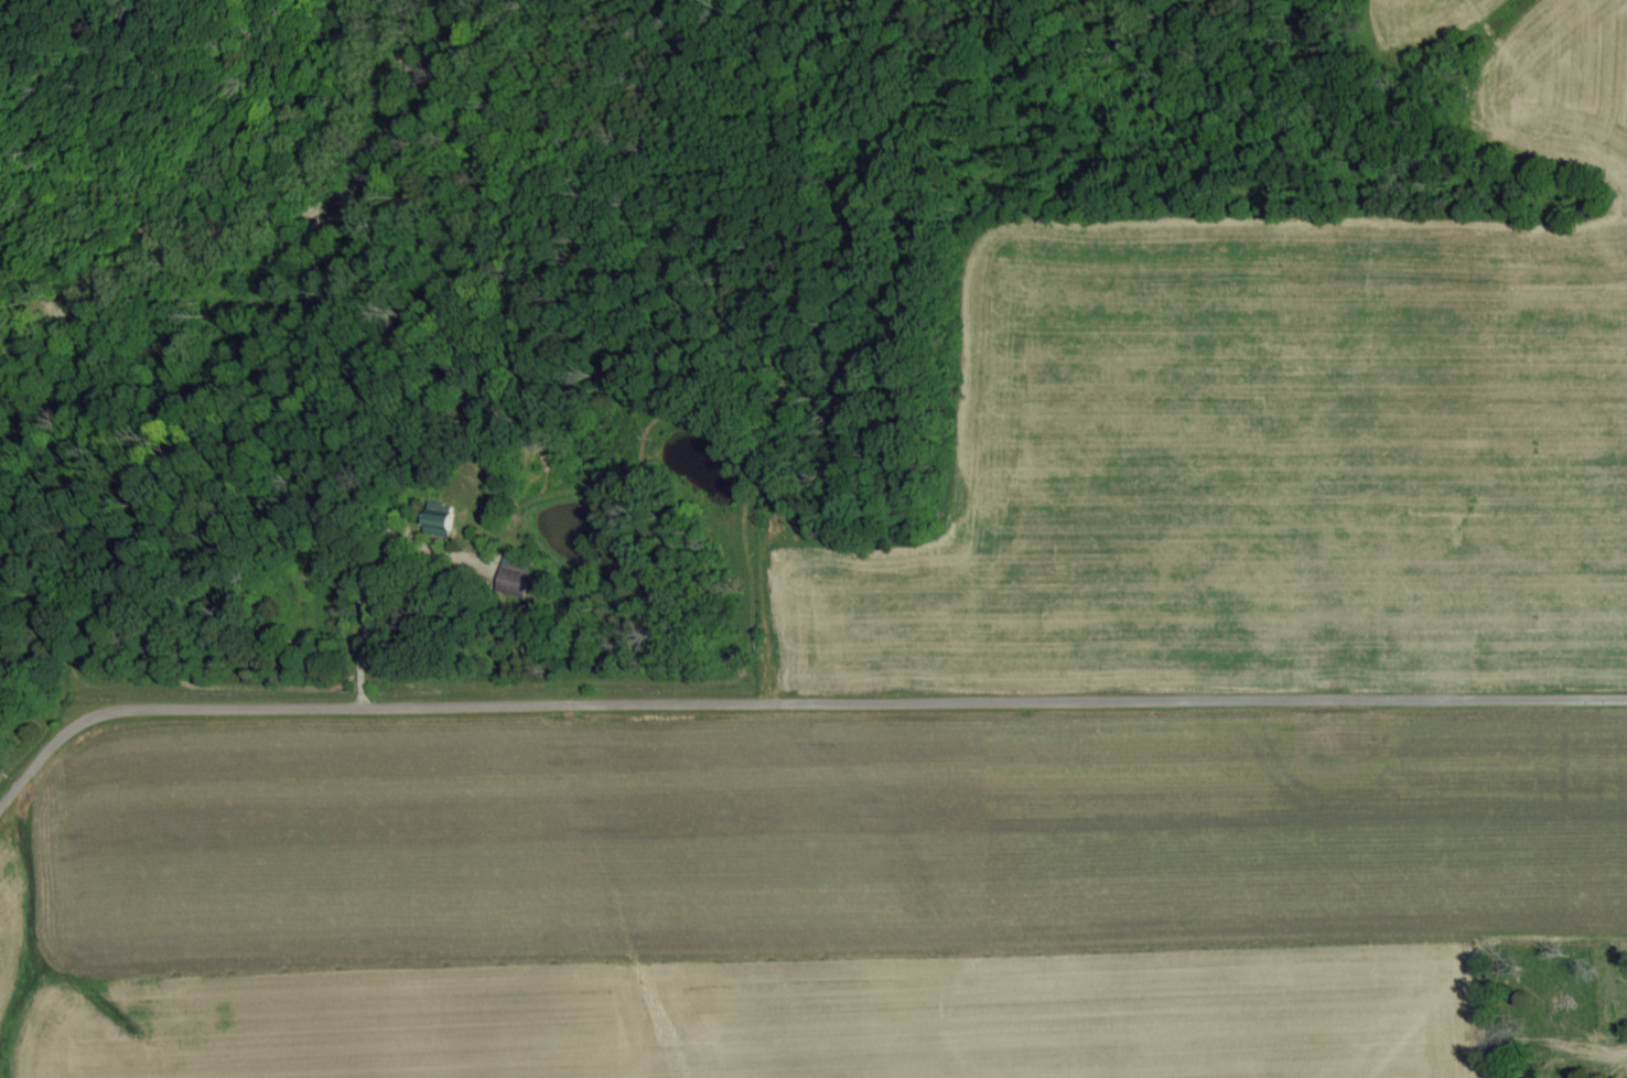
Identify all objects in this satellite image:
road: (377, 576)
road: (795, 701)
crop: (978, 704)

